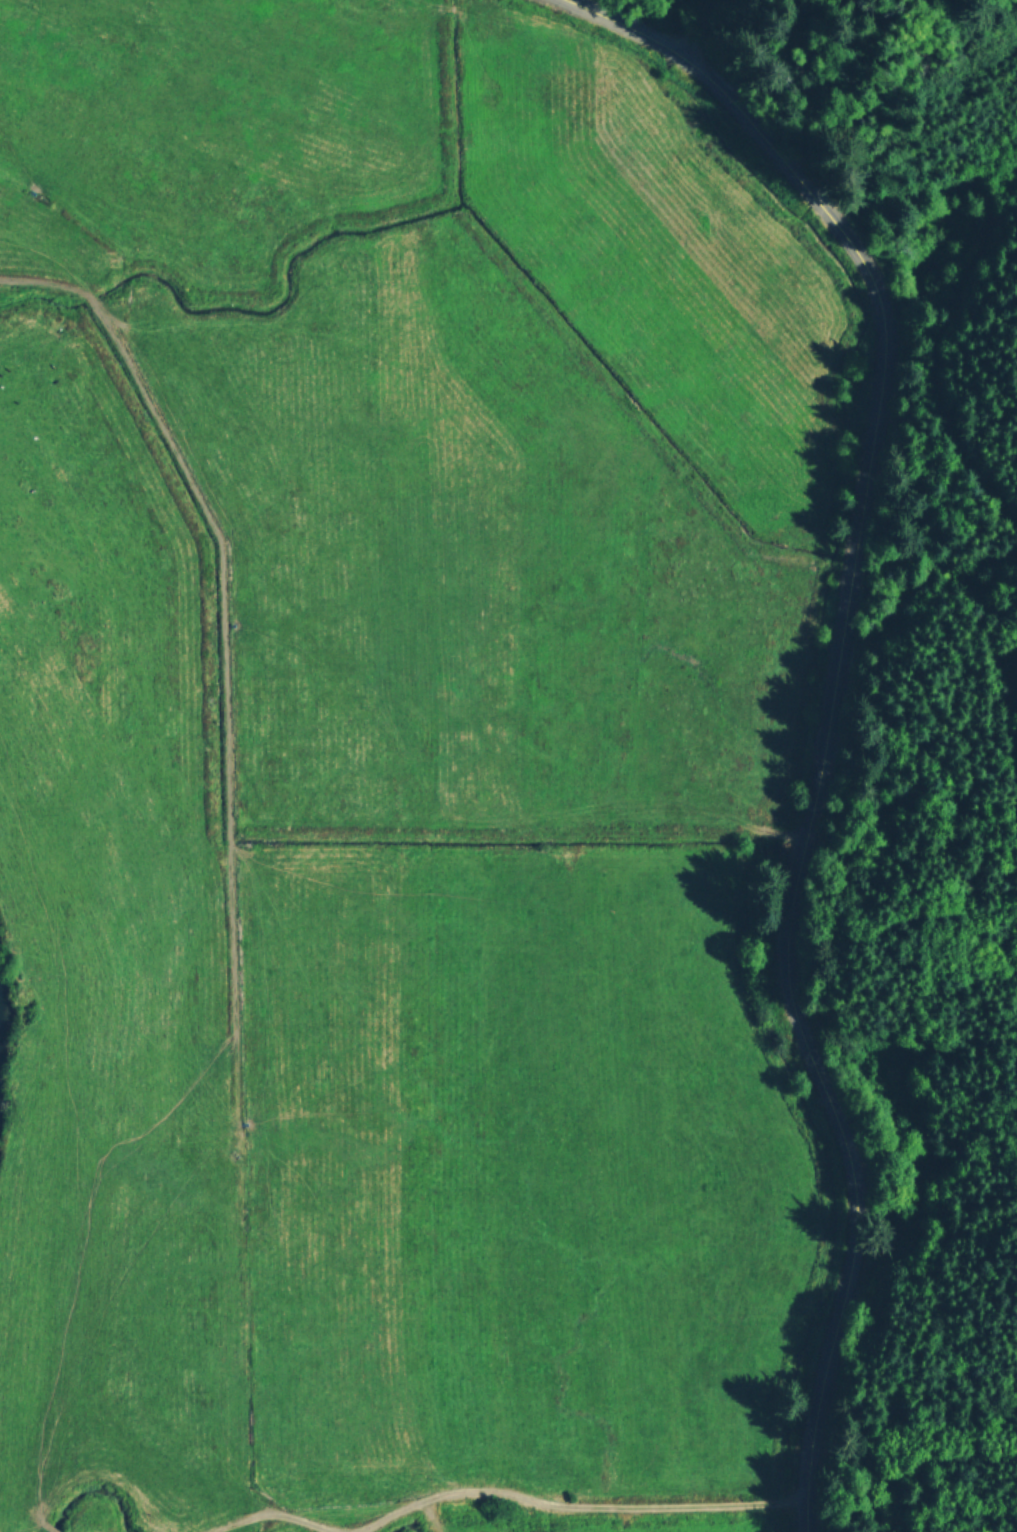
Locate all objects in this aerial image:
road: (687, 27)
road: (977, 404)
road: (828, 703)
crop: (384, 782)
road: (498, 1490)

